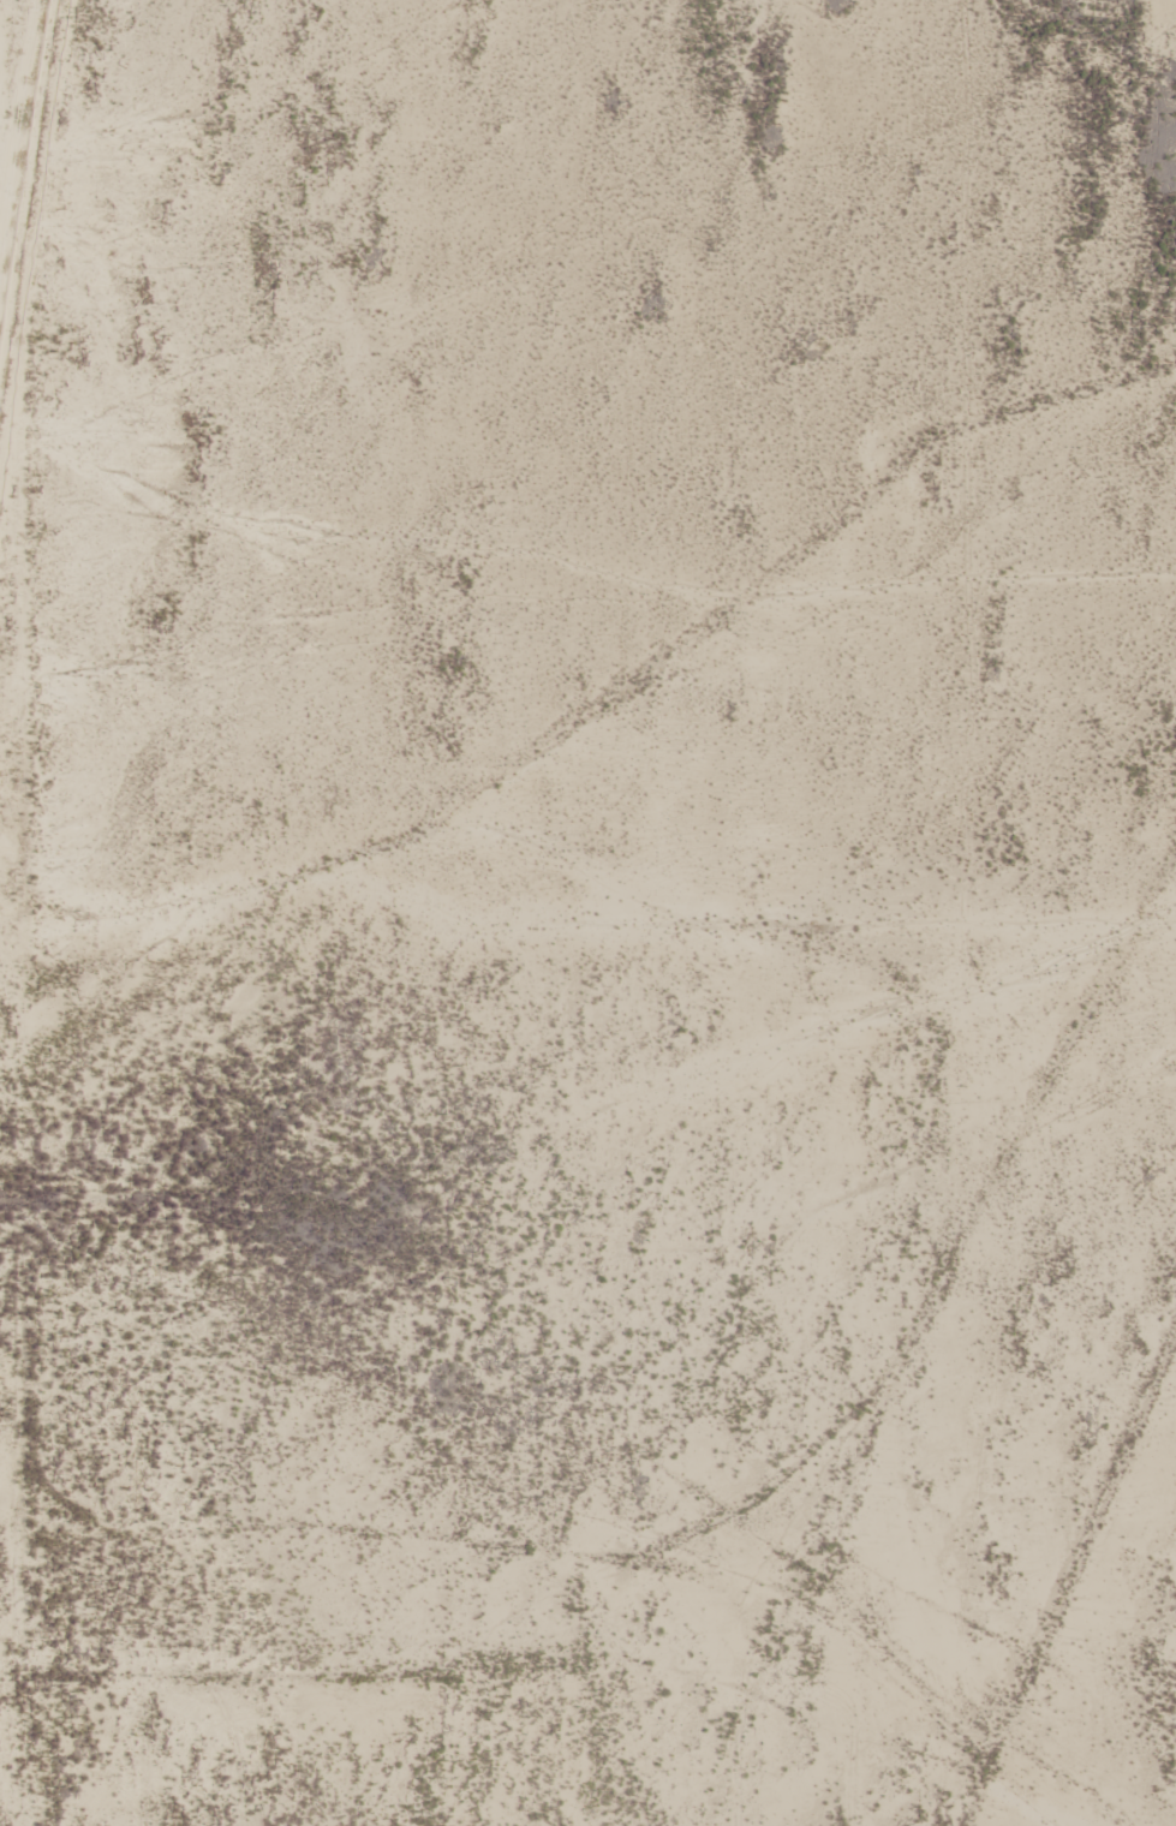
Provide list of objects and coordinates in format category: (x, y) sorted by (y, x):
road: (1071, 1567)

